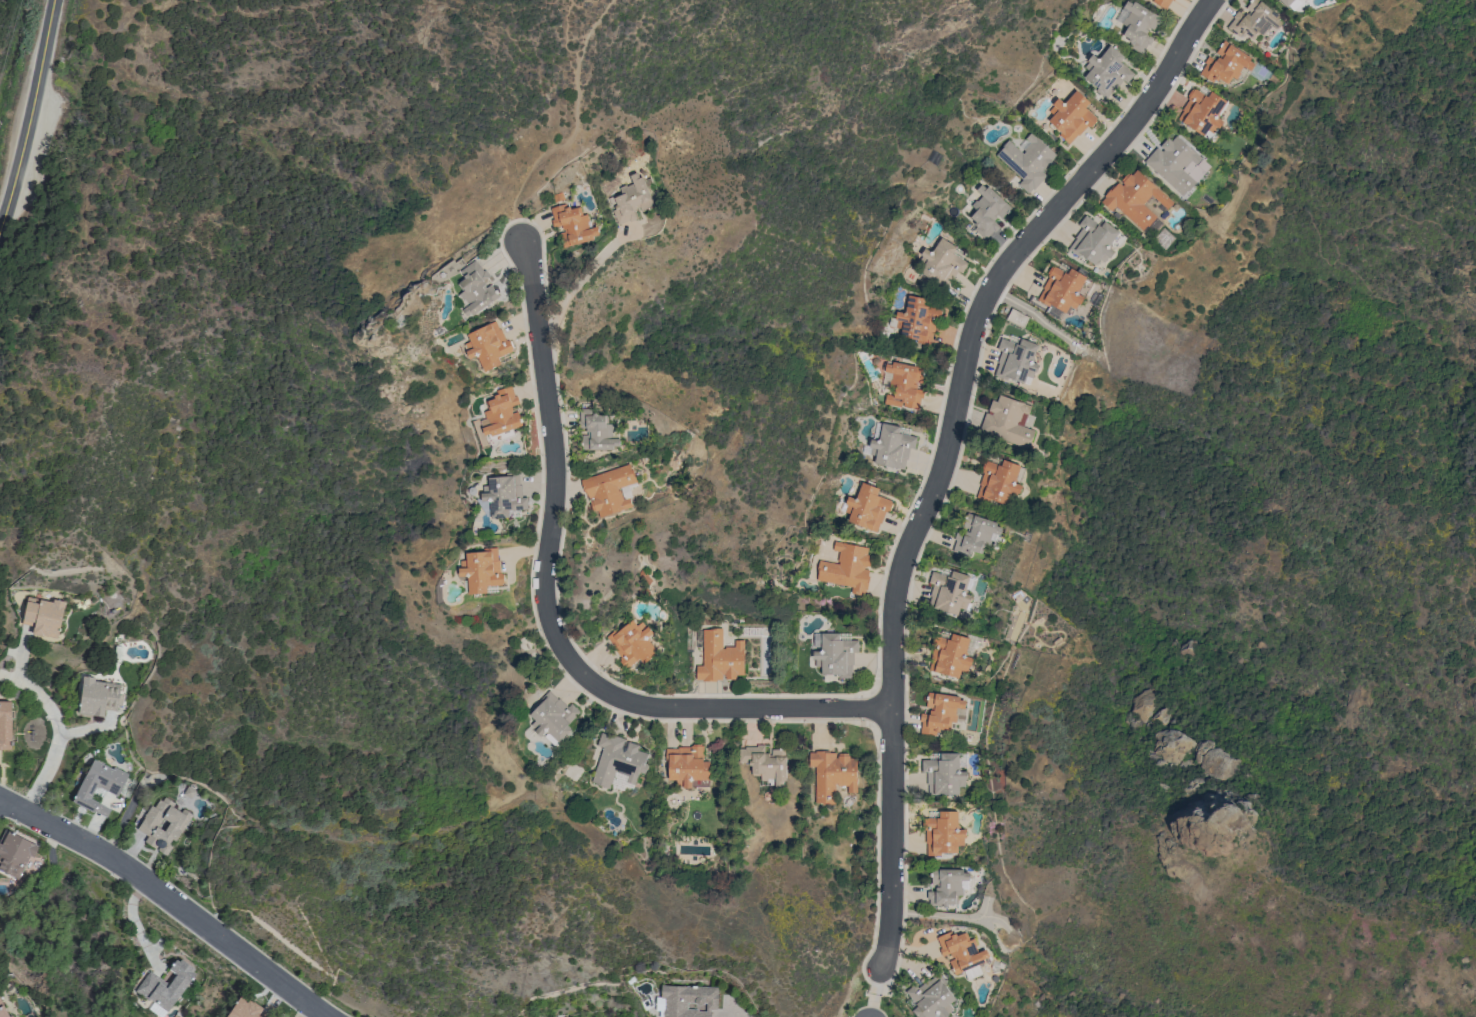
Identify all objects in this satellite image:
building: (1304, 0)
building: (1286, 2)
building: (1163, 3)
building: (1254, 20)
building: (1137, 24)
road: (568, 44)
building: (1226, 63)
building: (1107, 71)
building: (1203, 111)
road: (30, 115)
building: (1072, 116)
road: (576, 129)
building: (1028, 161)
building: (1174, 163)
building: (632, 199)
building: (1137, 200)
building: (988, 211)
building: (573, 225)
building: (1094, 240)
building: (942, 263)
road: (576, 285)
building: (475, 289)
building: (1064, 289)
building: (917, 320)
building: (489, 345)
building: (1017, 360)
building: (904, 384)
building: (502, 415)
building: (1008, 421)
building: (596, 430)
building: (891, 444)
road: (949, 448)
building: (999, 481)
building: (609, 489)
building: (502, 495)
building: (868, 507)
building: (976, 534)
building: (848, 568)
building: (483, 570)
building: (950, 591)
building: (43, 617)
road: (551, 624)
building: (633, 643)
building: (836, 655)
building: (950, 655)
building: (720, 657)
building: (98, 697)
building: (1143, 703)
building: (940, 712)
building: (554, 716)
road: (55, 723)
building: (5, 725)
building: (1171, 744)
building: (619, 760)
building: (766, 762)
building: (1215, 763)
building: (688, 764)
building: (833, 774)
building: (944, 774)
building: (99, 786)
building: (150, 825)
building: (943, 832)
building: (15, 853)
building: (947, 886)
road: (166, 899)
building: (963, 953)
building: (166, 987)
road: (875, 993)
building: (932, 997)
building: (686, 1001)
building: (245, 1008)
building: (3, 1011)
road: (731, 1015)

